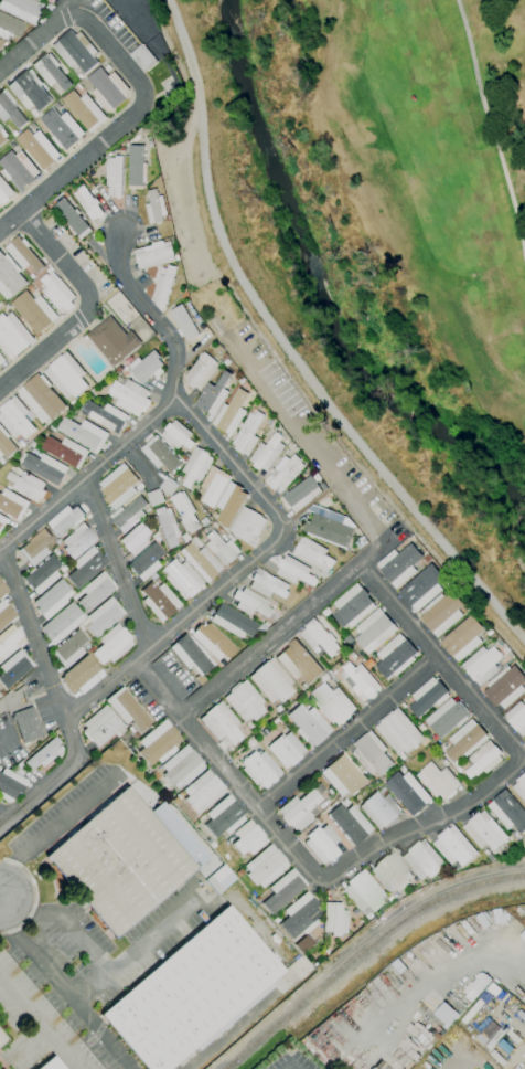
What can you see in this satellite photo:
park: (115, 4)
building: (22, 9)
building: (9, 27)
building: (0, 40)
building: (0, 42)
building: (76, 51)
building: (142, 57)
building: (51, 71)
building: (108, 89)
building: (29, 91)
road: (141, 91)
building: (9, 110)
building: (85, 110)
building: (62, 129)
road: (491, 130)
building: (2, 136)
building: (39, 149)
building: (136, 168)
building: (19, 169)
park: (435, 173)
building: (114, 176)
building: (4, 192)
building: (87, 203)
building: (156, 209)
building: (72, 218)
building: (23, 254)
building: (153, 255)
building: (9, 277)
building: (163, 286)
building: (56, 293)
river: (321, 296)
road: (93, 309)
road: (151, 310)
building: (33, 311)
building: (183, 324)
building: (12, 336)
building: (113, 340)
road: (288, 349)
building: (1, 360)
building: (148, 368)
building: (202, 371)
building: (66, 375)
building: (130, 396)
building: (213, 396)
building: (41, 398)
building: (231, 413)
building: (105, 416)
building: (15, 419)
building: (84, 434)
building: (247, 434)
building: (176, 435)
building: (6, 444)
building: (65, 452)
building: (267, 453)
building: (160, 455)
building: (194, 466)
building: (44, 468)
building: (283, 473)
building: (28, 485)
building: (118, 485)
building: (167, 486)
building: (213, 486)
building: (301, 495)
building: (154, 497)
building: (12, 504)
building: (229, 504)
building: (184, 511)
building: (128, 515)
building: (65, 520)
building: (2, 522)
building: (247, 525)
building: (168, 526)
building: (329, 530)
road: (285, 537)
building: (136, 539)
building: (78, 541)
building: (35, 547)
building: (222, 549)
road: (375, 553)
building: (313, 554)
road: (117, 561)
building: (201, 561)
building: (147, 562)
building: (399, 565)
building: (86, 567)
building: (294, 571)
building: (43, 574)
building: (182, 579)
building: (267, 584)
building: (422, 588)
building: (2, 590)
building: (96, 592)
building: (52, 601)
building: (160, 601)
building: (250, 603)
building: (352, 606)
building: (441, 613)
building: (4, 614)
building: (104, 616)
building: (233, 621)
building: (62, 623)
building: (374, 629)
road: (37, 632)
building: (319, 637)
building: (463, 638)
building: (9, 641)
building: (212, 641)
building: (113, 644)
building: (69, 649)
building: (190, 655)
building: (395, 657)
road: (440, 659)
building: (299, 661)
building: (482, 665)
building: (14, 668)
building: (82, 676)
building: (271, 681)
building: (360, 681)
building: (505, 687)
building: (427, 697)
building: (245, 701)
building: (333, 703)
building: (128, 709)
building: (447, 718)
building: (517, 718)
building: (222, 723)
building: (28, 724)
building: (309, 724)
building: (101, 726)
building: (398, 732)
road: (354, 735)
road: (4, 738)
building: (464, 741)
building: (159, 743)
building: (287, 750)
building: (44, 754)
building: (371, 754)
building: (483, 760)
building: (182, 766)
building: (260, 769)
building: (343, 775)
building: (438, 781)
building: (10, 785)
building: (519, 787)
building: (203, 792)
building: (408, 792)
building: (299, 809)
building: (379, 809)
building: (508, 812)
building: (225, 817)
building: (350, 823)
road: (53, 830)
building: (484, 832)
building: (249, 838)
building: (322, 844)
building: (453, 847)
building: (421, 859)
road: (309, 861)
building: (120, 862)
building: (267, 866)
building: (390, 874)
building: (214, 883)
building: (285, 890)
building: (362, 891)
road: (35, 898)
road: (1, 900)
building: (302, 915)
building: (335, 919)
road: (66, 922)
road: (136, 951)
railway: (363, 951)
road: (429, 965)
road: (62, 987)
building: (192, 992)
road: (501, 1014)
road: (37, 1023)
road: (235, 1026)
building: (2, 1038)
road: (26, 1042)
building: (51, 1065)

